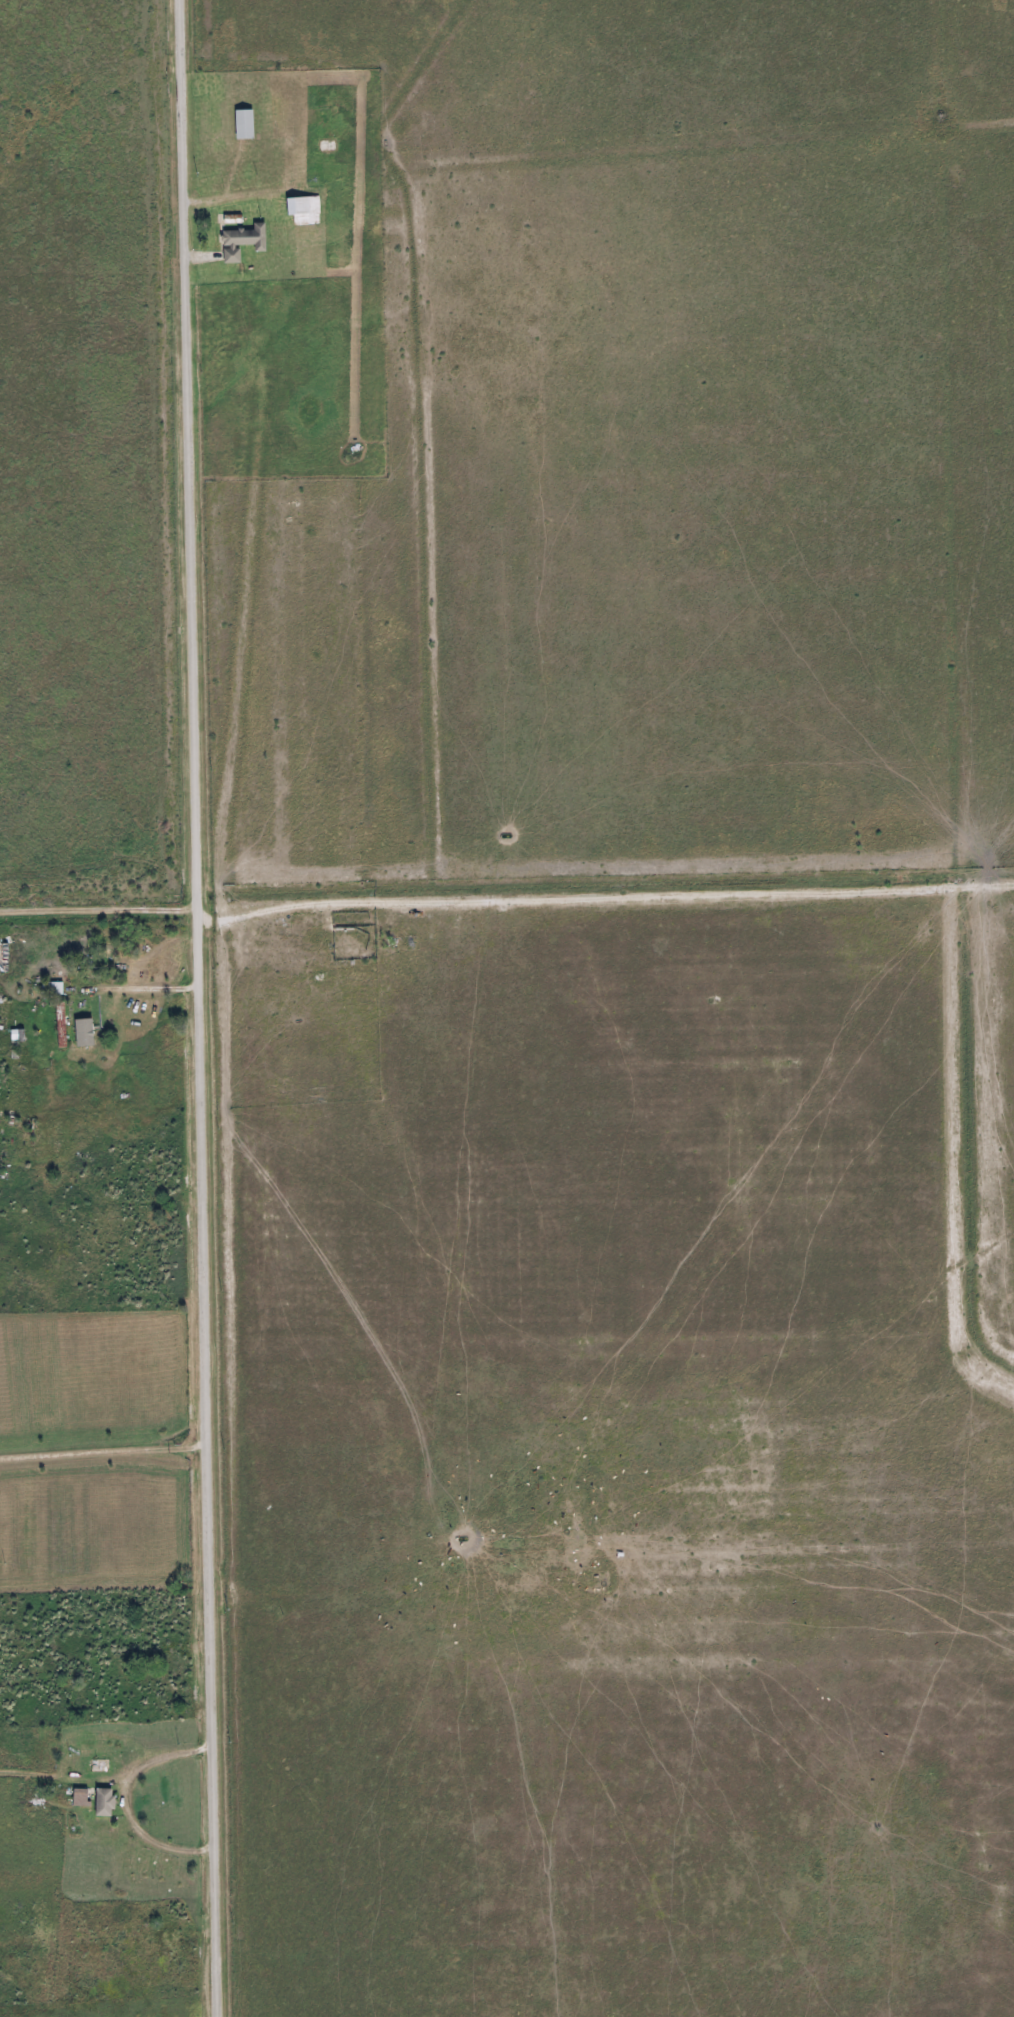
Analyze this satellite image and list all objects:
building: (245, 125)
building: (305, 211)
building: (243, 242)
road: (611, 902)
building: (57, 988)
road: (210, 1008)
building: (85, 1032)
road: (109, 1448)
building: (87, 1764)
building: (81, 1798)
building: (106, 1803)

